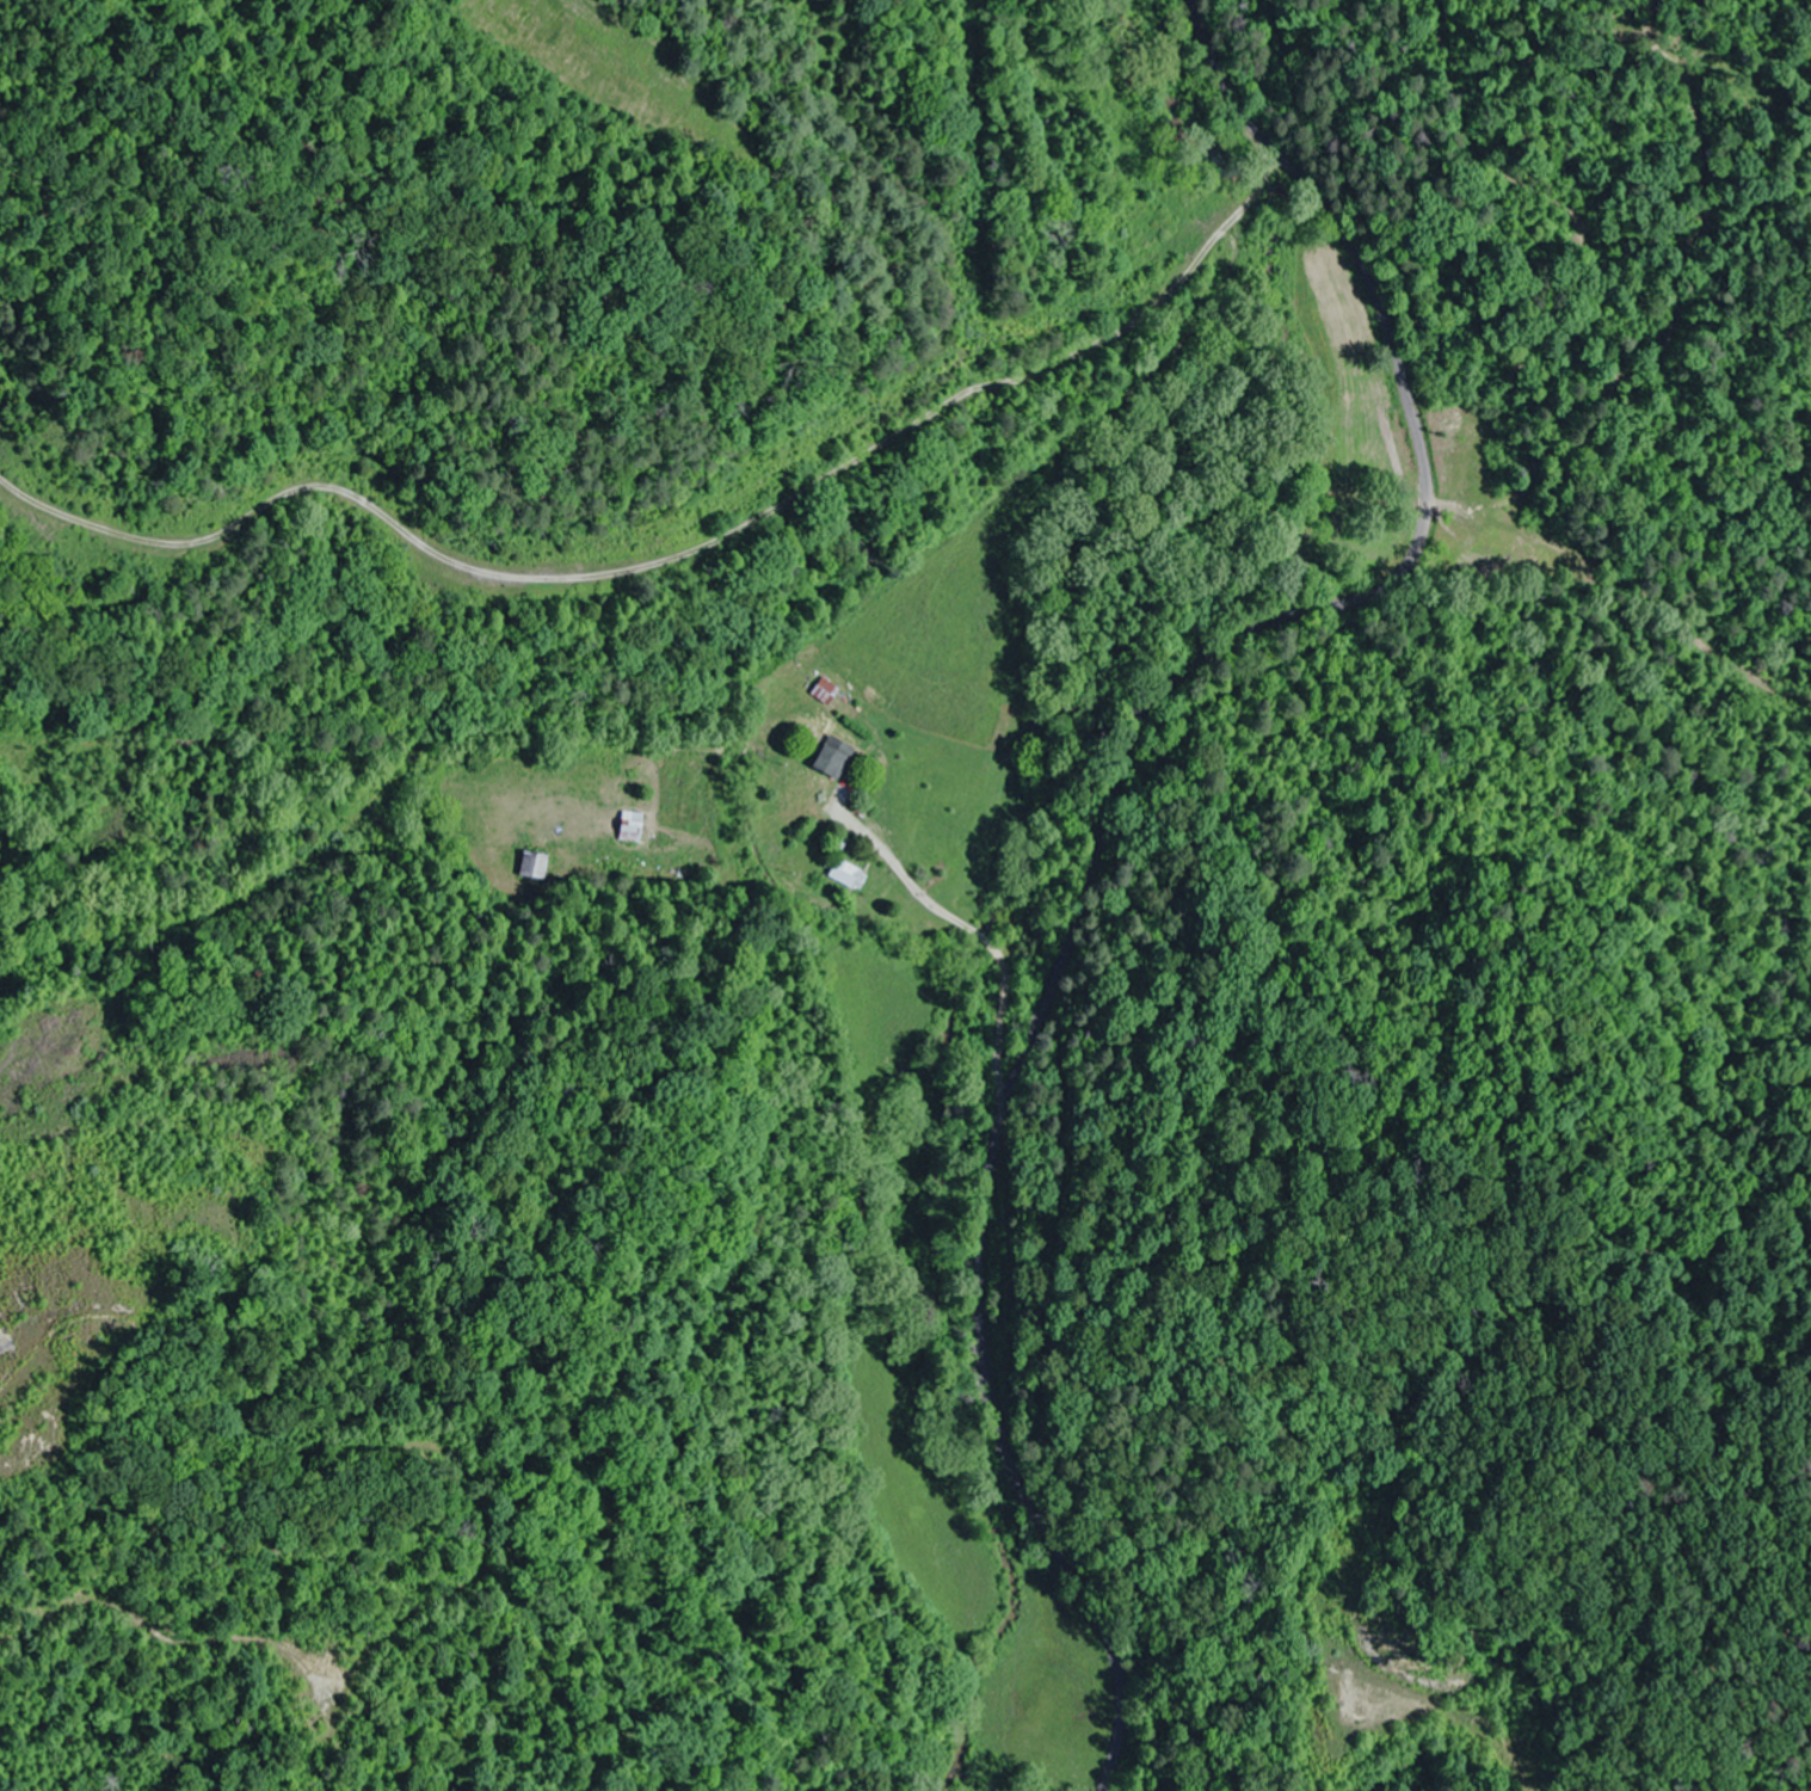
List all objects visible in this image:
building: (826, 691)
building: (833, 757)
road: (1109, 805)
building: (630, 825)
building: (532, 864)
building: (844, 873)

